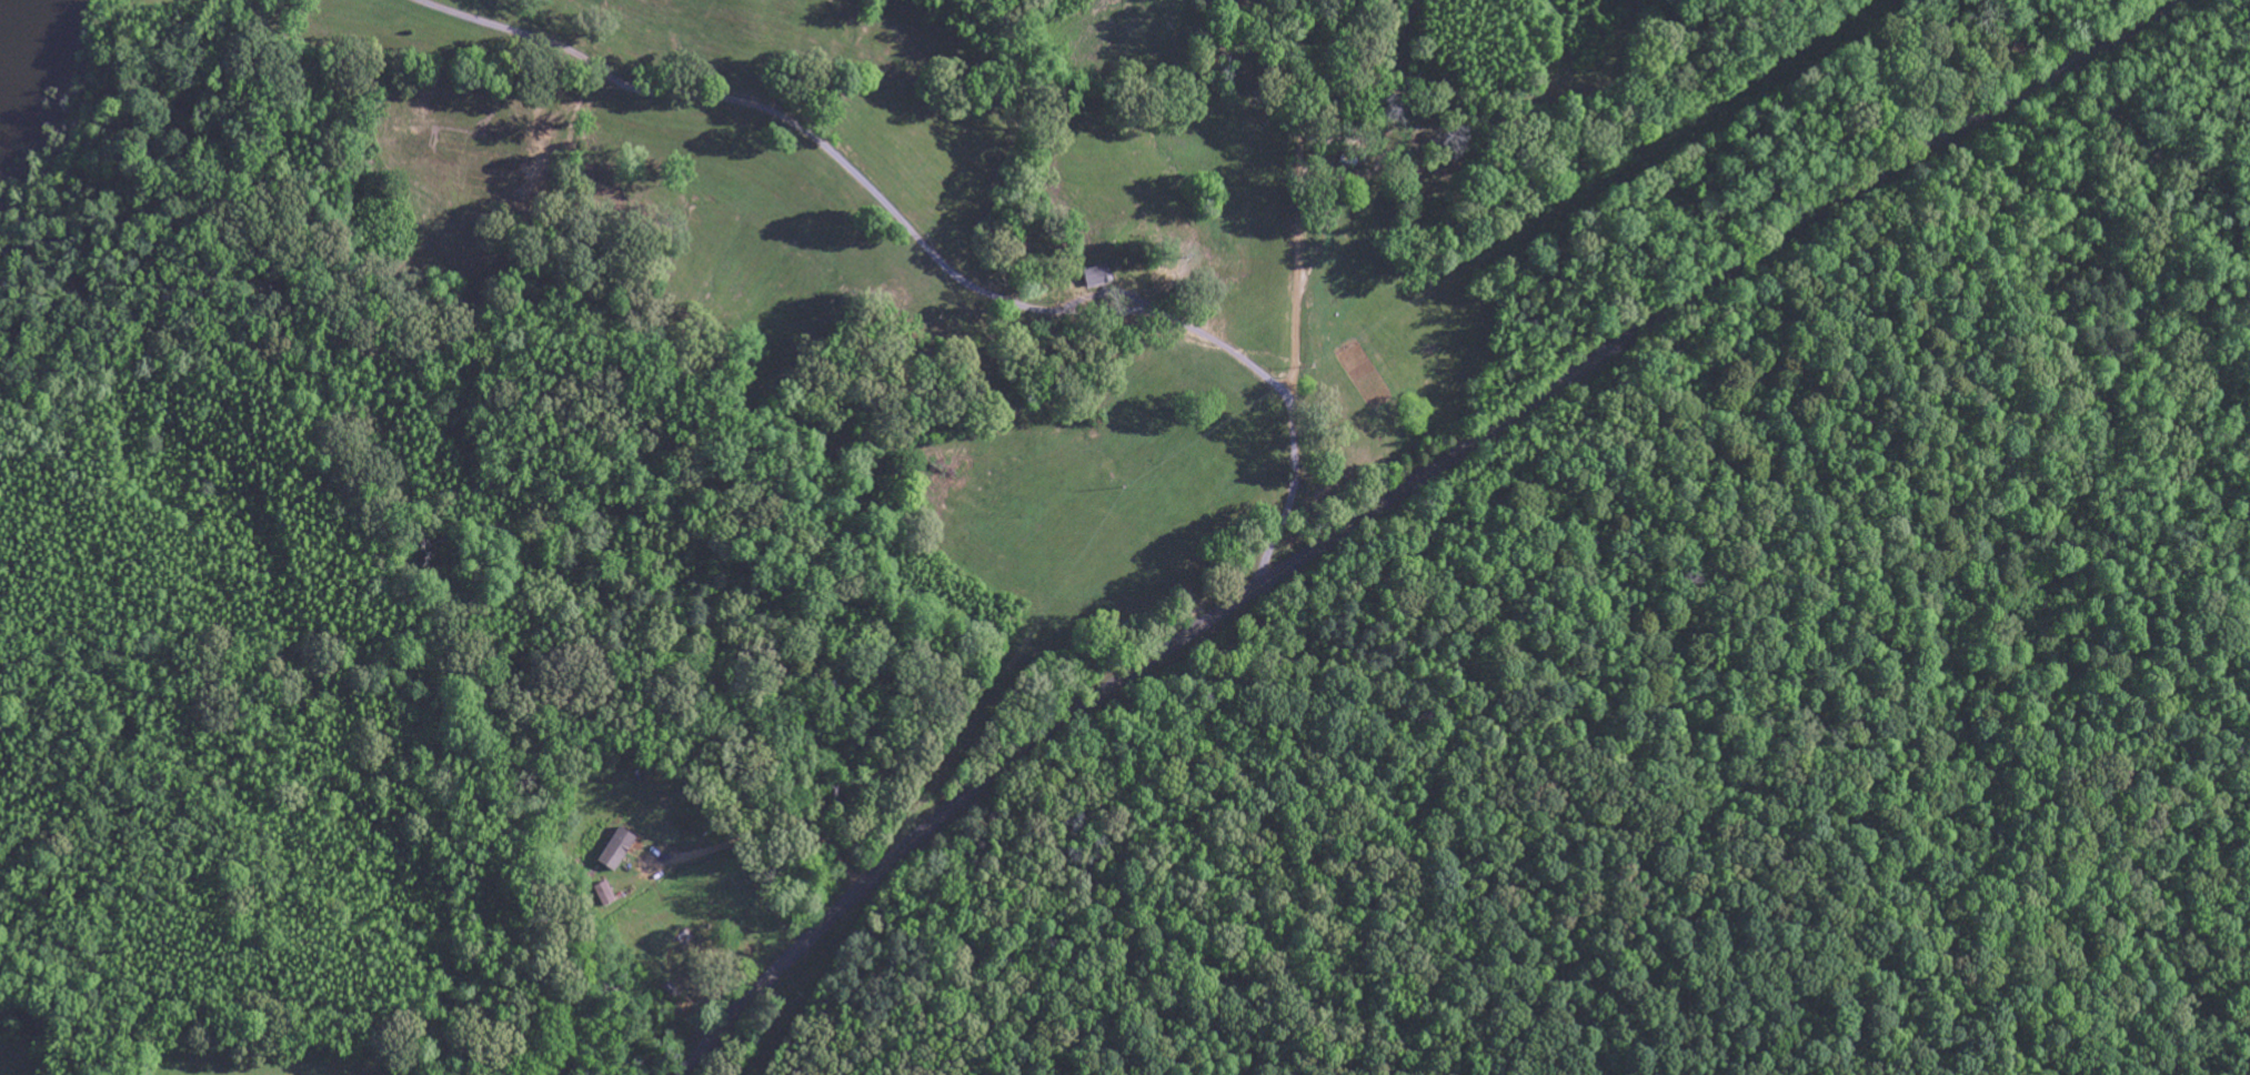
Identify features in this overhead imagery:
road: (510, 127)
road: (1019, 244)
building: (1099, 277)
road: (1403, 491)
building: (619, 851)
building: (605, 895)
road: (521, 903)

